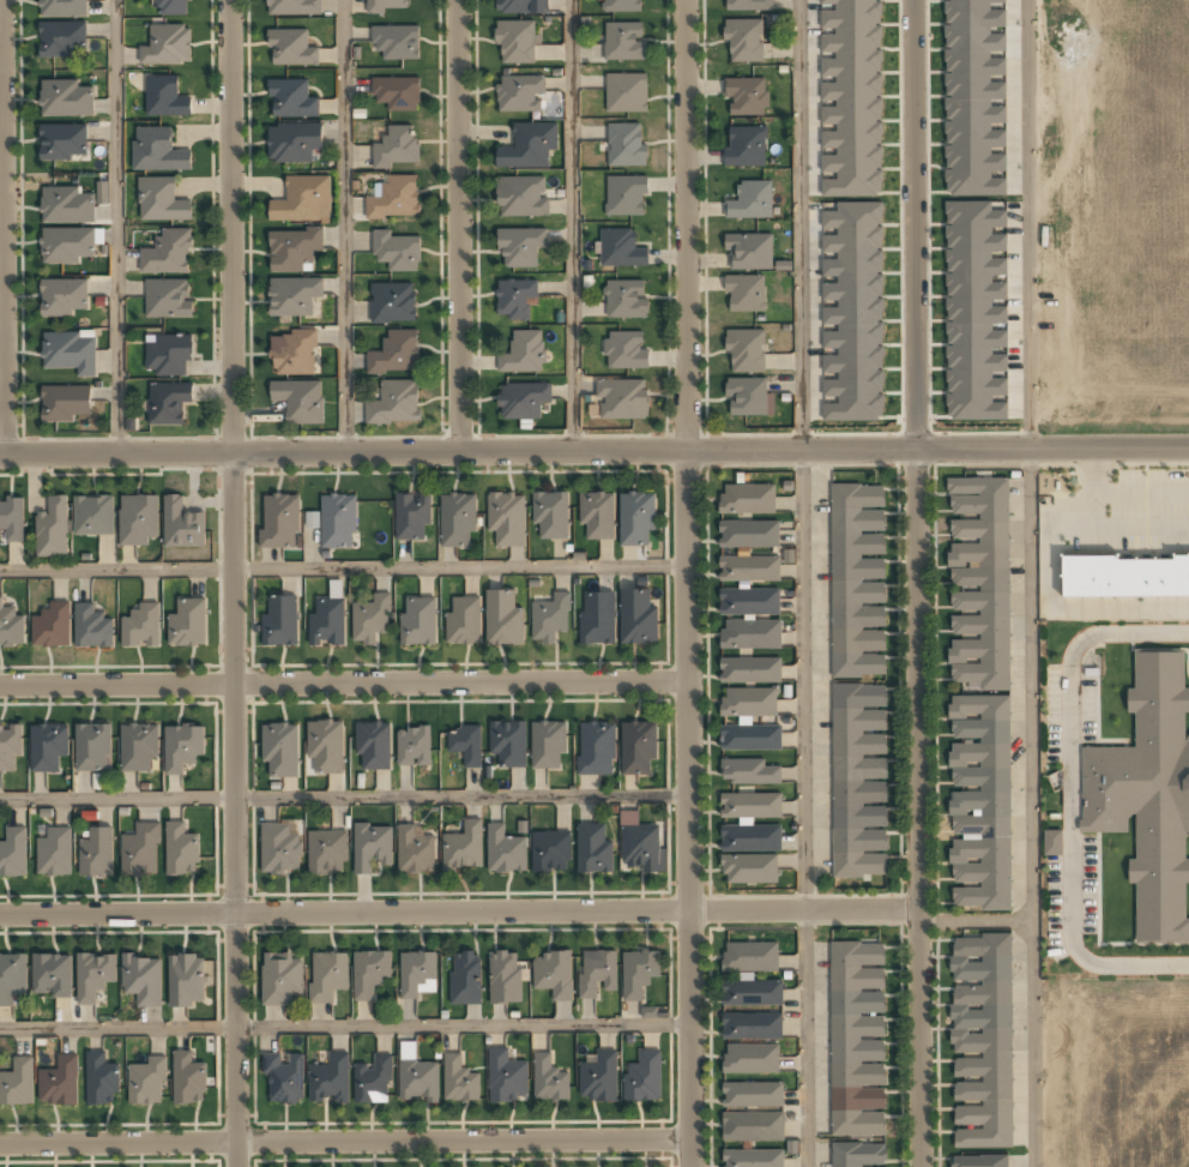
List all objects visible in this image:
building: (387, 5)
building: (747, 5)
building: (623, 6)
building: (170, 7)
building: (292, 7)
building: (520, 7)
building: (62, 8)
building: (743, 40)
building: (62, 41)
building: (396, 41)
building: (623, 42)
building: (514, 43)
building: (167, 46)
building: (291, 48)
building: (396, 92)
building: (624, 92)
building: (518, 94)
building: (164, 97)
building: (744, 97)
building: (851, 97)
building: (973, 97)
building: (65, 98)
building: (290, 100)
building: (62, 144)
building: (291, 144)
building: (626, 145)
building: (396, 146)
building: (527, 146)
building: (744, 148)
building: (157, 150)
building: (102, 192)
building: (626, 194)
building: (520, 197)
building: (394, 199)
building: (161, 200)
building: (302, 200)
building: (749, 201)
building: (67, 206)
road: (1027, 224)
road: (344, 225)
road: (459, 225)
road: (572, 225)
road: (2, 227)
road: (116, 227)
building: (66, 245)
building: (520, 247)
building: (620, 248)
building: (291, 249)
building: (168, 252)
building: (396, 252)
building: (748, 252)
building: (744, 295)
building: (292, 296)
building: (62, 297)
building: (168, 297)
building: (514, 299)
building: (624, 300)
building: (392, 303)
building: (852, 312)
building: (976, 312)
building: (623, 351)
building: (746, 351)
building: (68, 353)
building: (523, 353)
building: (291, 354)
building: (396, 354)
building: (167, 355)
building: (746, 397)
building: (298, 401)
building: (521, 401)
building: (621, 401)
building: (167, 403)
building: (394, 403)
building: (65, 404)
road: (594, 451)
building: (747, 500)
building: (550, 516)
building: (596, 516)
building: (93, 517)
building: (411, 517)
building: (635, 518)
building: (11, 519)
building: (137, 519)
building: (505, 519)
building: (455, 521)
building: (278, 522)
building: (337, 522)
building: (181, 525)
building: (52, 530)
building: (748, 535)
road: (344, 569)
building: (749, 570)
building: (1122, 576)
building: (857, 582)
road: (233, 583)
road: (688, 583)
road: (802, 583)
road: (913, 583)
building: (749, 602)
building: (502, 619)
building: (549, 619)
building: (597, 619)
building: (636, 619)
building: (369, 620)
building: (279, 621)
building: (417, 621)
building: (461, 621)
building: (326, 622)
building: (187, 625)
building: (52, 626)
building: (91, 627)
building: (140, 627)
building: (11, 628)
building: (749, 636)
building: (749, 670)
road: (344, 684)
building: (978, 693)
building: (748, 703)
building: (750, 739)
building: (464, 744)
building: (507, 744)
building: (10, 745)
building: (547, 745)
building: (48, 746)
building: (373, 746)
building: (412, 746)
building: (182, 747)
building: (325, 747)
building: (91, 748)
building: (138, 748)
building: (596, 748)
building: (638, 748)
building: (279, 752)
building: (748, 771)
building: (858, 781)
building: (1146, 793)
road: (344, 796)
road: (1067, 799)
building: (750, 806)
road: (1031, 808)
building: (750, 838)
building: (1052, 842)
building: (370, 847)
building: (461, 848)
building: (592, 848)
building: (640, 848)
building: (277, 849)
building: (180, 850)
building: (505, 850)
building: (139, 852)
building: (414, 852)
building: (550, 852)
building: (95, 853)
building: (326, 853)
building: (13, 854)
building: (53, 854)
building: (748, 870)
road: (458, 912)
road: (973, 920)
building: (749, 958)
building: (415, 972)
building: (368, 973)
building: (596, 973)
building: (638, 973)
building: (554, 974)
building: (326, 975)
building: (50, 976)
building: (92, 976)
building: (464, 976)
building: (505, 976)
building: (11, 979)
building: (186, 979)
building: (141, 980)
building: (280, 980)
building: (729, 994)
road: (344, 1025)
building: (752, 1027)
building: (857, 1040)
building: (980, 1042)
building: (749, 1059)
building: (598, 1075)
building: (284, 1077)
building: (505, 1077)
building: (642, 1078)
building: (188, 1079)
building: (416, 1079)
building: (99, 1081)
building: (330, 1081)
building: (459, 1081)
building: (548, 1081)
building: (372, 1082)
building: (59, 1083)
building: (146, 1083)
building: (17, 1084)
building: (752, 1095)
building: (753, 1125)
road: (345, 1141)
building: (859, 1154)
building: (756, 1160)
building: (979, 1160)

